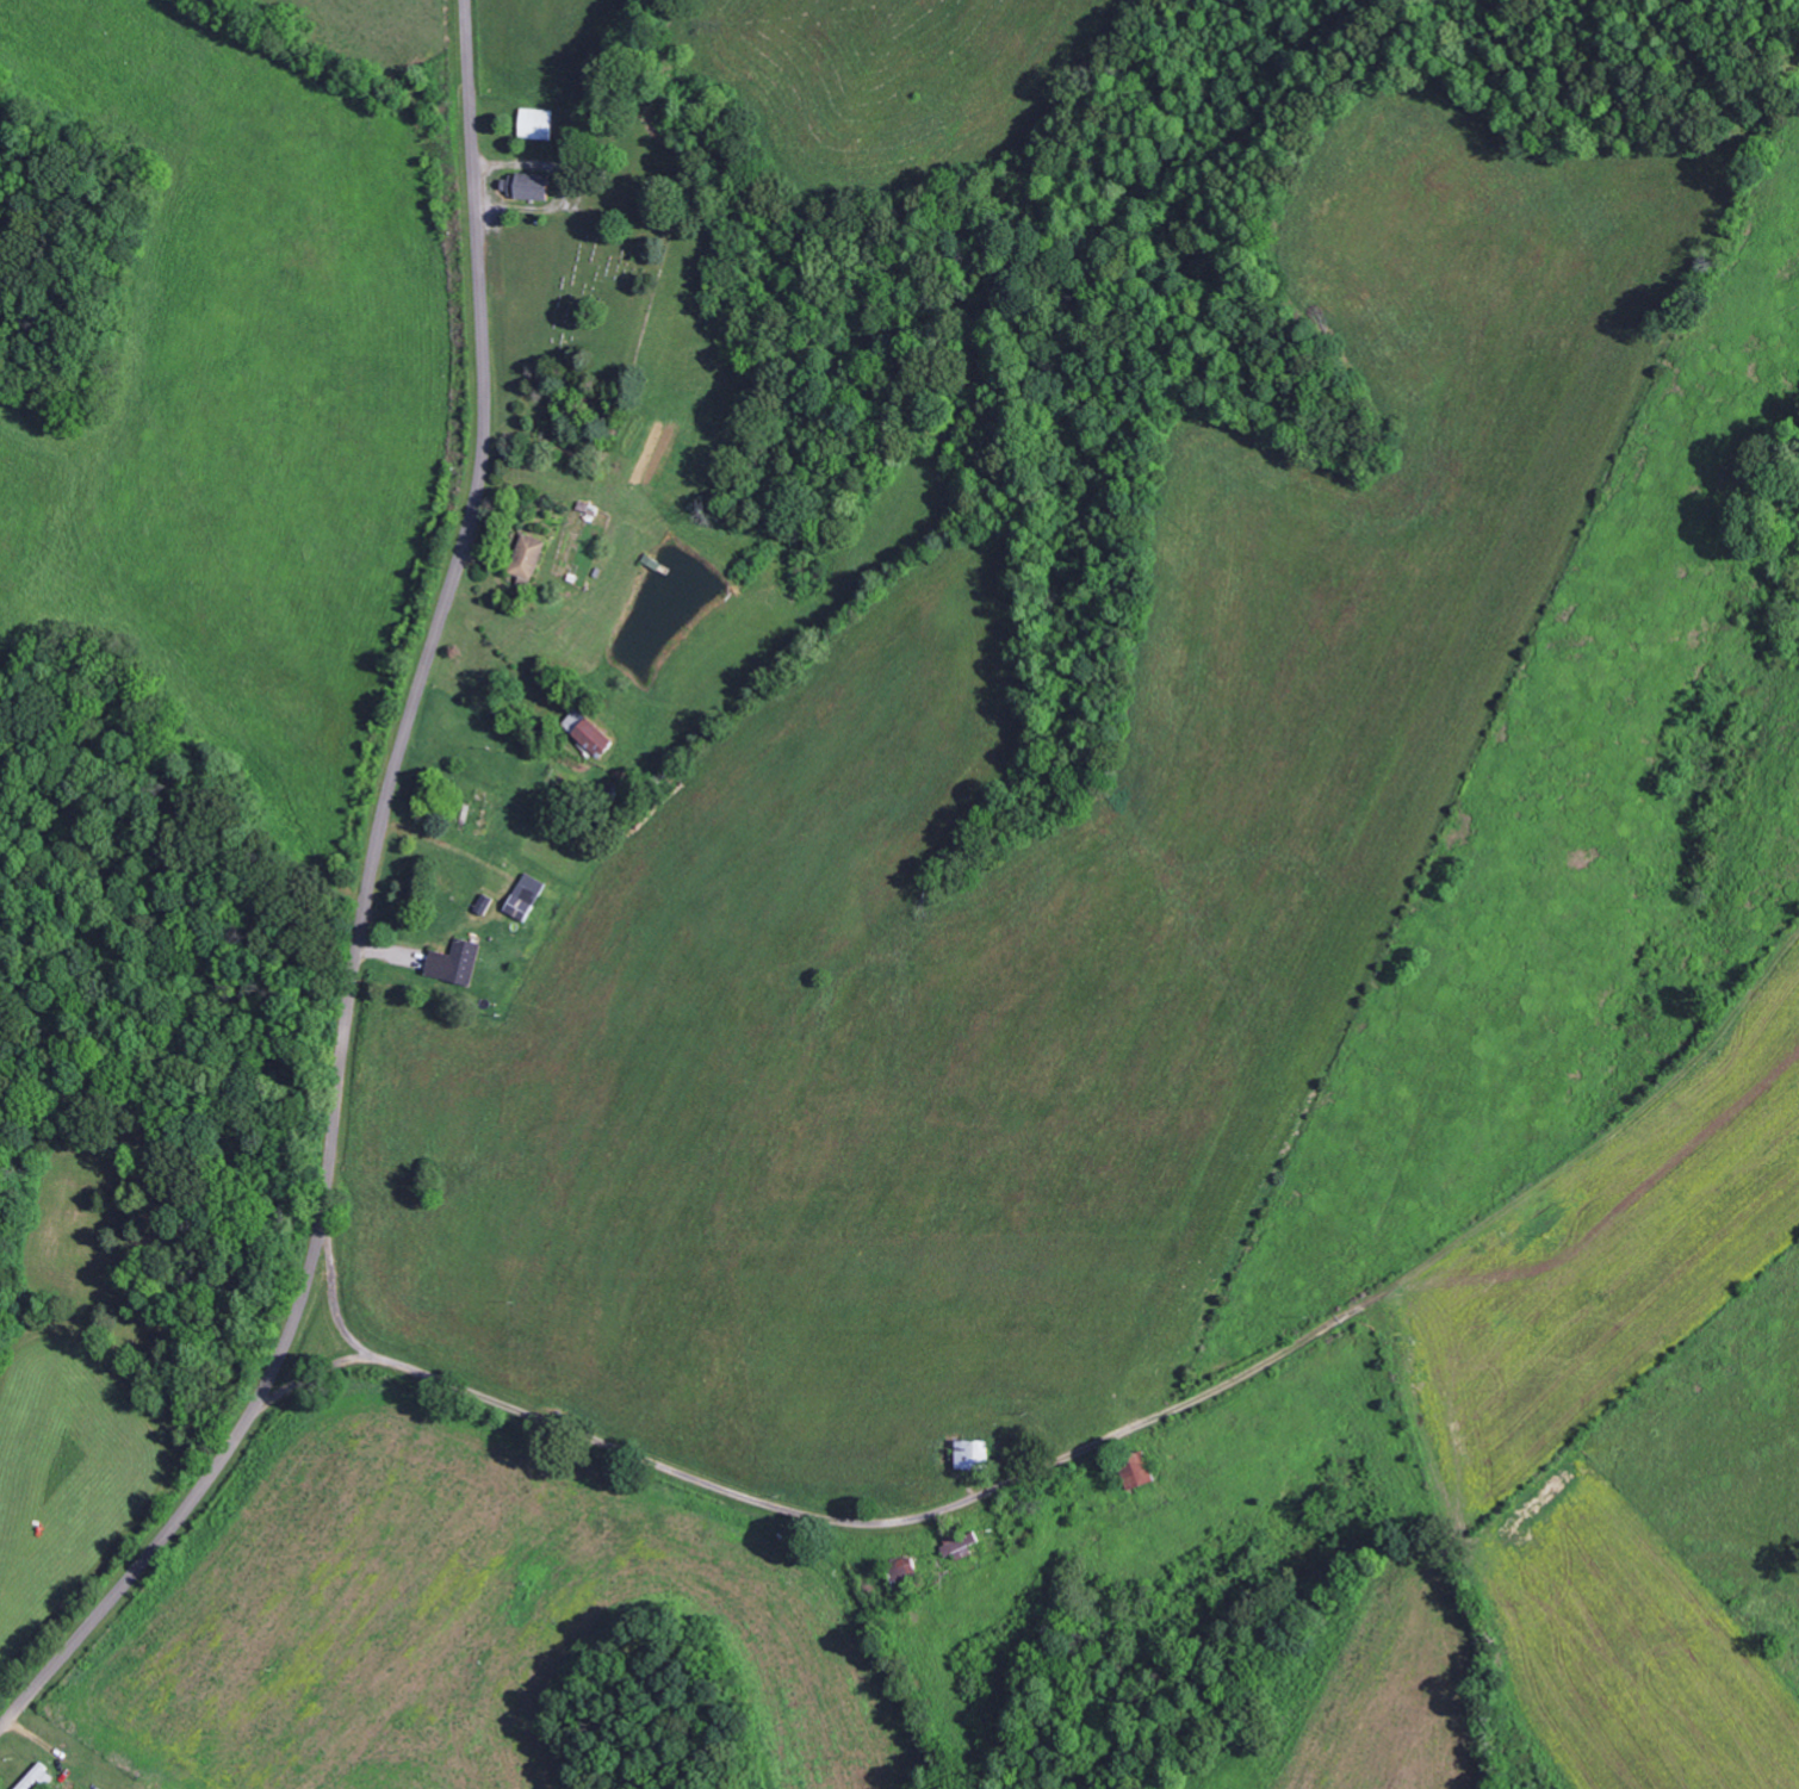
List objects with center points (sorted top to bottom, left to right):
building: (538, 124)
building: (525, 185)
park: (597, 299)
building: (522, 555)
building: (581, 732)
road: (364, 908)
building: (448, 962)
road: (335, 1287)
building: (966, 1454)
building: (1129, 1470)
road: (824, 1518)

